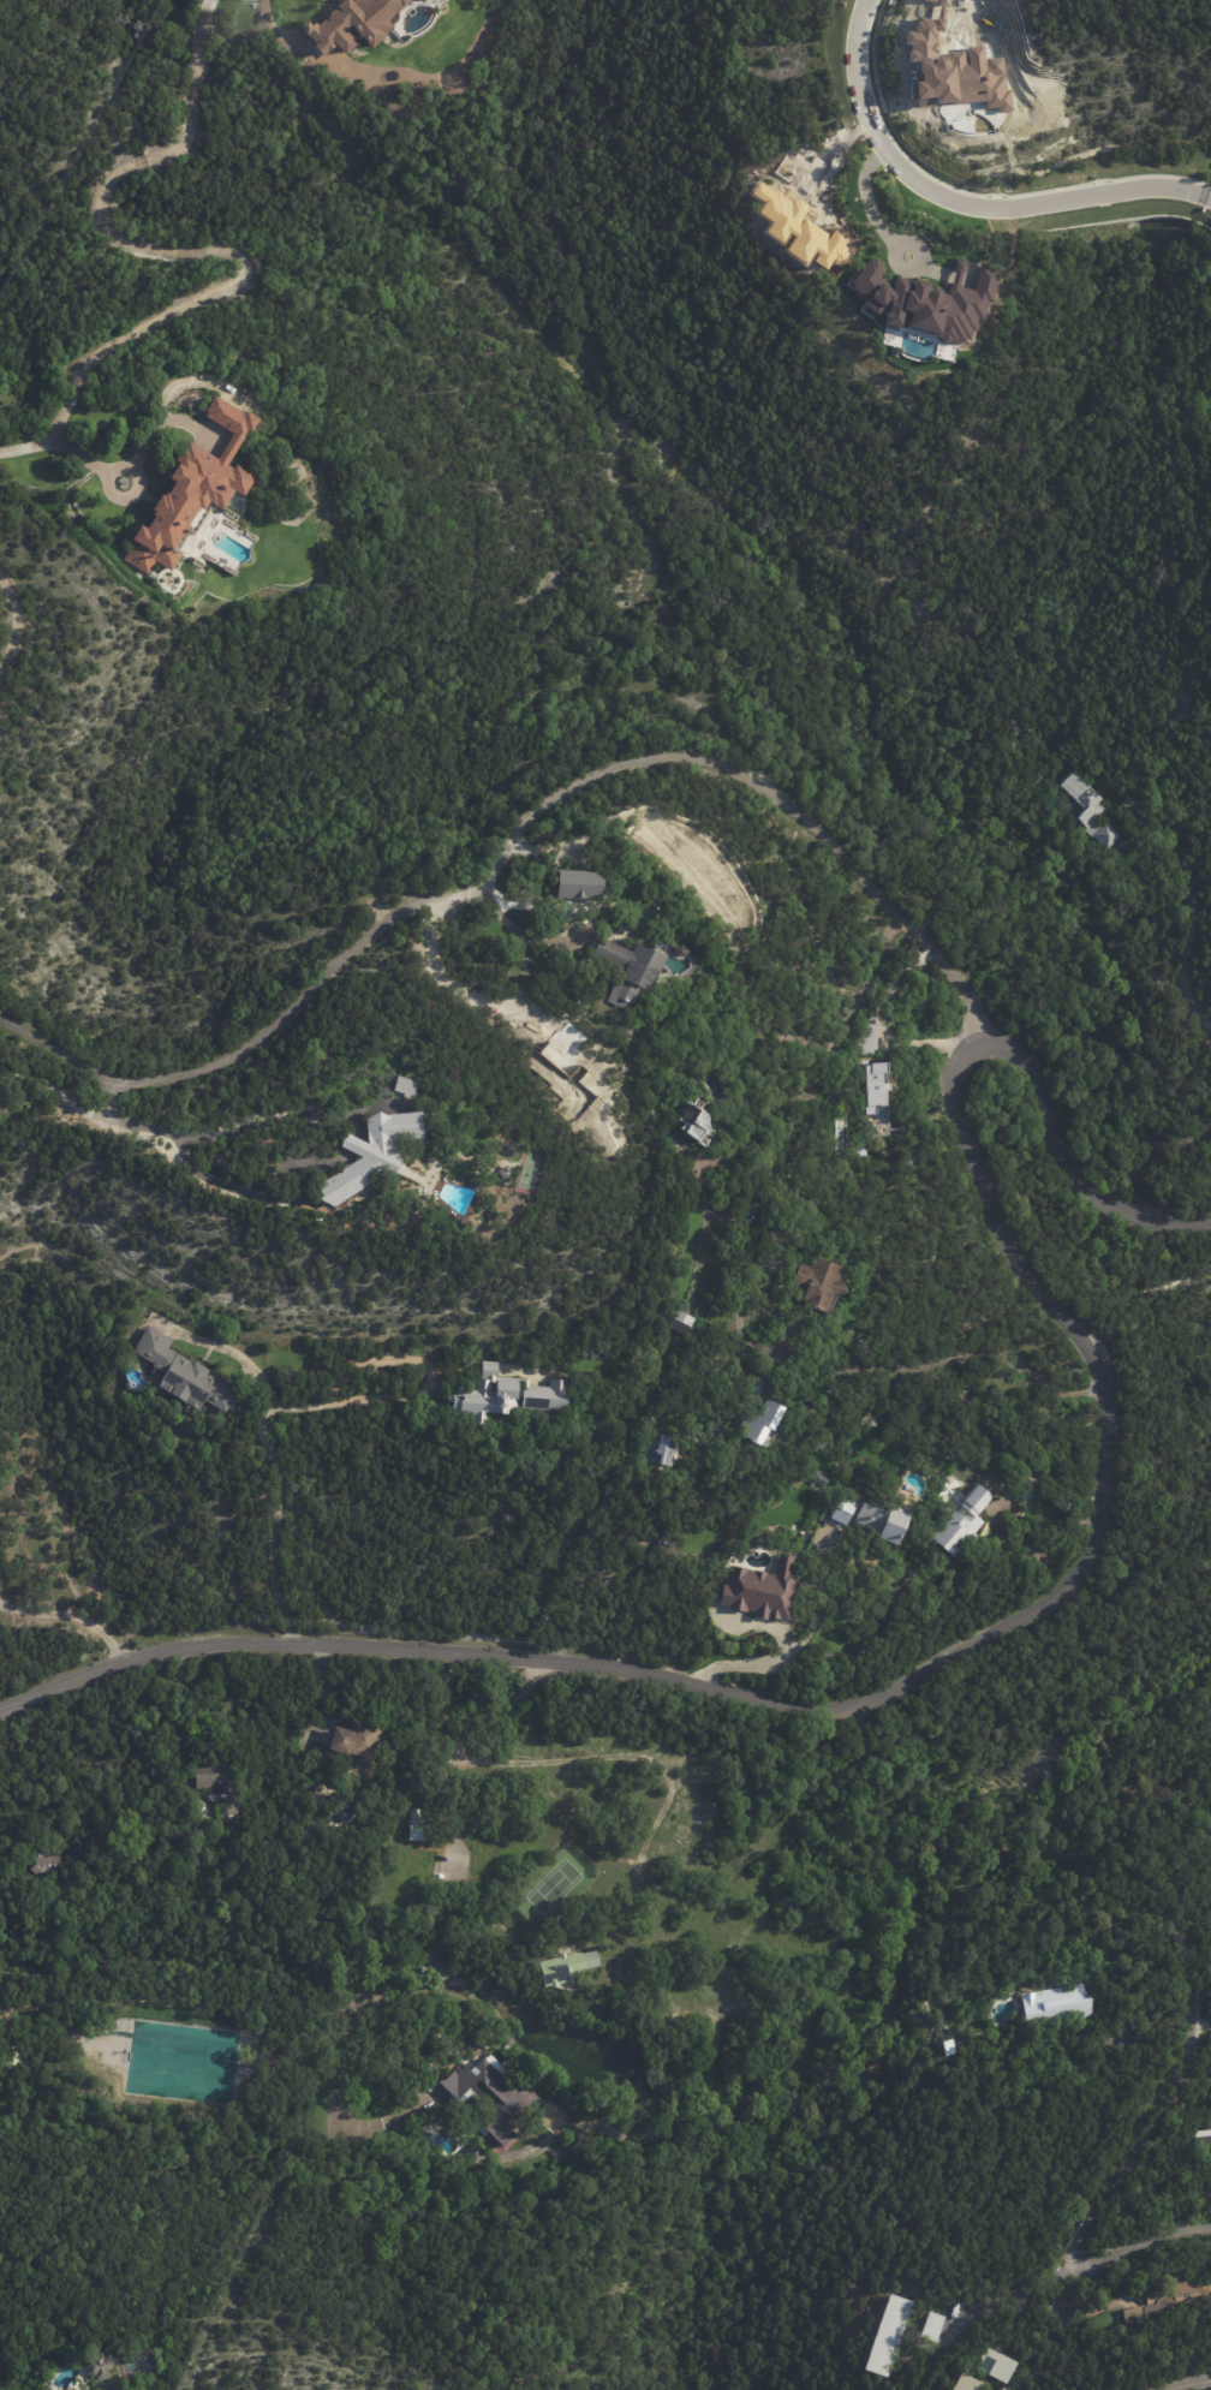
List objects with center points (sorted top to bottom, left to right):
building: (352, 24)
road: (1207, 197)
road: (870, 198)
road: (958, 202)
road: (196, 251)
building: (926, 300)
building: (195, 488)
road: (11, 621)
building: (1090, 812)
road: (509, 835)
building: (578, 883)
road: (523, 932)
road: (1185, 935)
building: (684, 950)
building: (632, 966)
road: (803, 1038)
building: (870, 1048)
building: (407, 1086)
building: (873, 1087)
road: (53, 1093)
road: (108, 1098)
road: (275, 1119)
building: (697, 1120)
building: (871, 1132)
building: (865, 1151)
building: (374, 1155)
road: (190, 1163)
road: (1067, 1166)
building: (775, 1240)
building: (823, 1282)
building: (684, 1324)
building: (185, 1375)
road: (413, 1389)
building: (508, 1396)
building: (765, 1424)
road: (268, 1448)
building: (662, 1452)
building: (1026, 1488)
building: (876, 1519)
building: (961, 1520)
road: (628, 1567)
building: (760, 1589)
road: (68, 1614)
road: (742, 1621)
road: (797, 1639)
road: (846, 1705)
road: (181, 1710)
building: (360, 1738)
building: (222, 1783)
building: (420, 1825)
building: (50, 1864)
building: (560, 1965)
building: (1061, 2008)
building: (13, 2058)
building: (490, 2100)
building: (1204, 2151)
building: (472, 2156)
road: (1103, 2194)
building: (1205, 2200)
road: (1014, 2287)
building: (1170, 2301)
building: (931, 2326)
building: (887, 2335)
building: (1001, 2366)
building: (101, 2367)
road: (1186, 2382)
building: (972, 2384)
building: (99, 2389)
building: (1001, 2389)
building: (1007, 2389)

